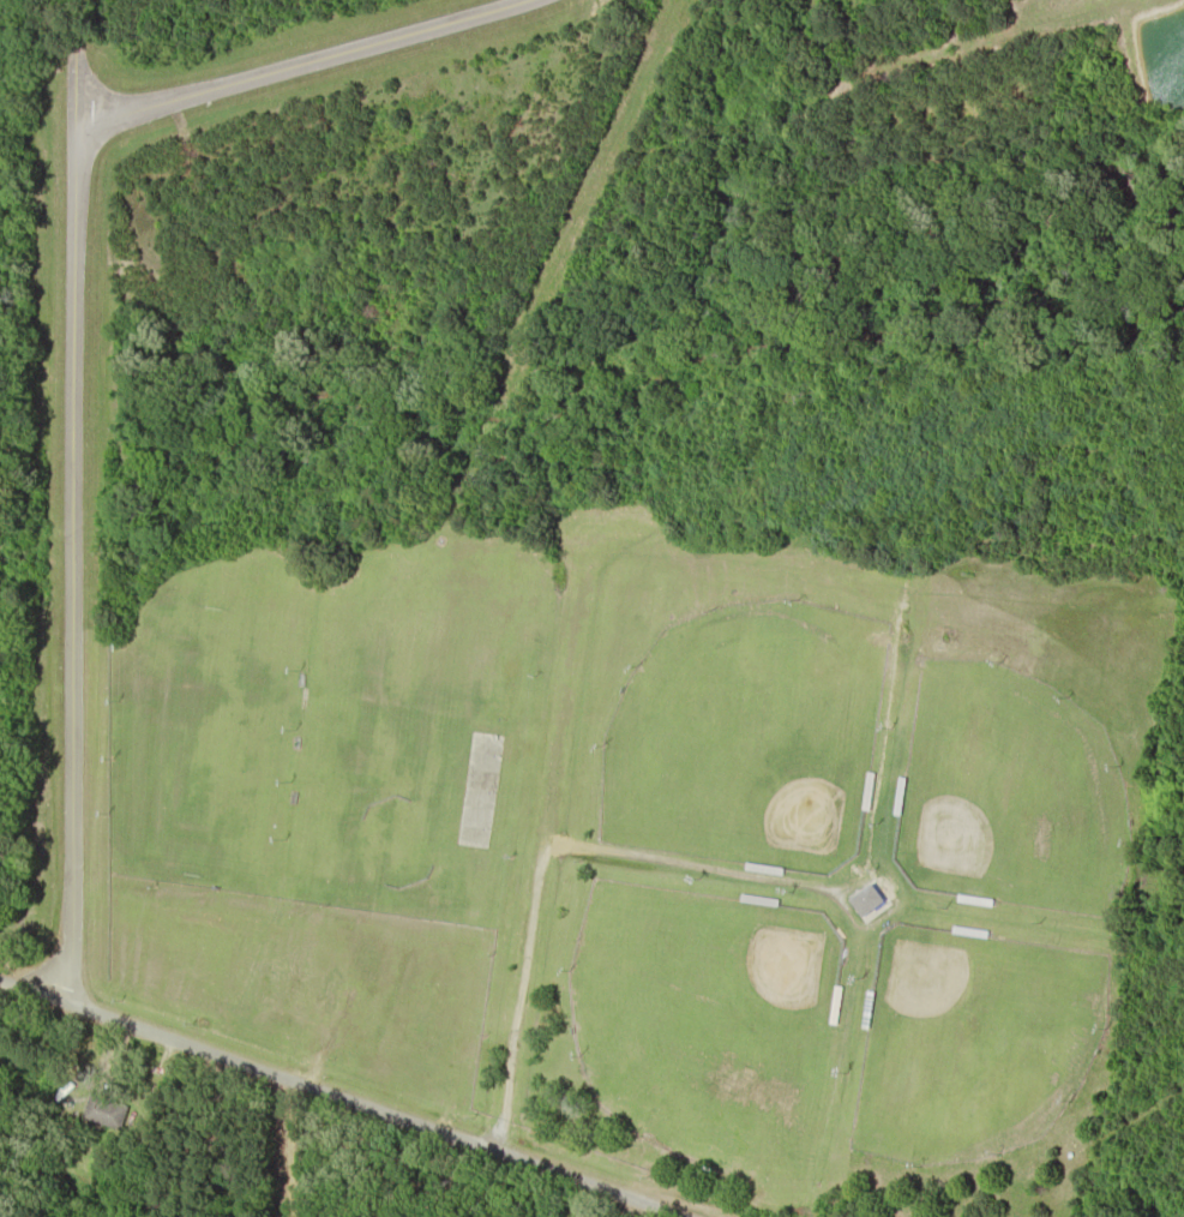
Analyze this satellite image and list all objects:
road: (295, 64)
road: (70, 518)
building: (864, 898)
road: (342, 1090)

